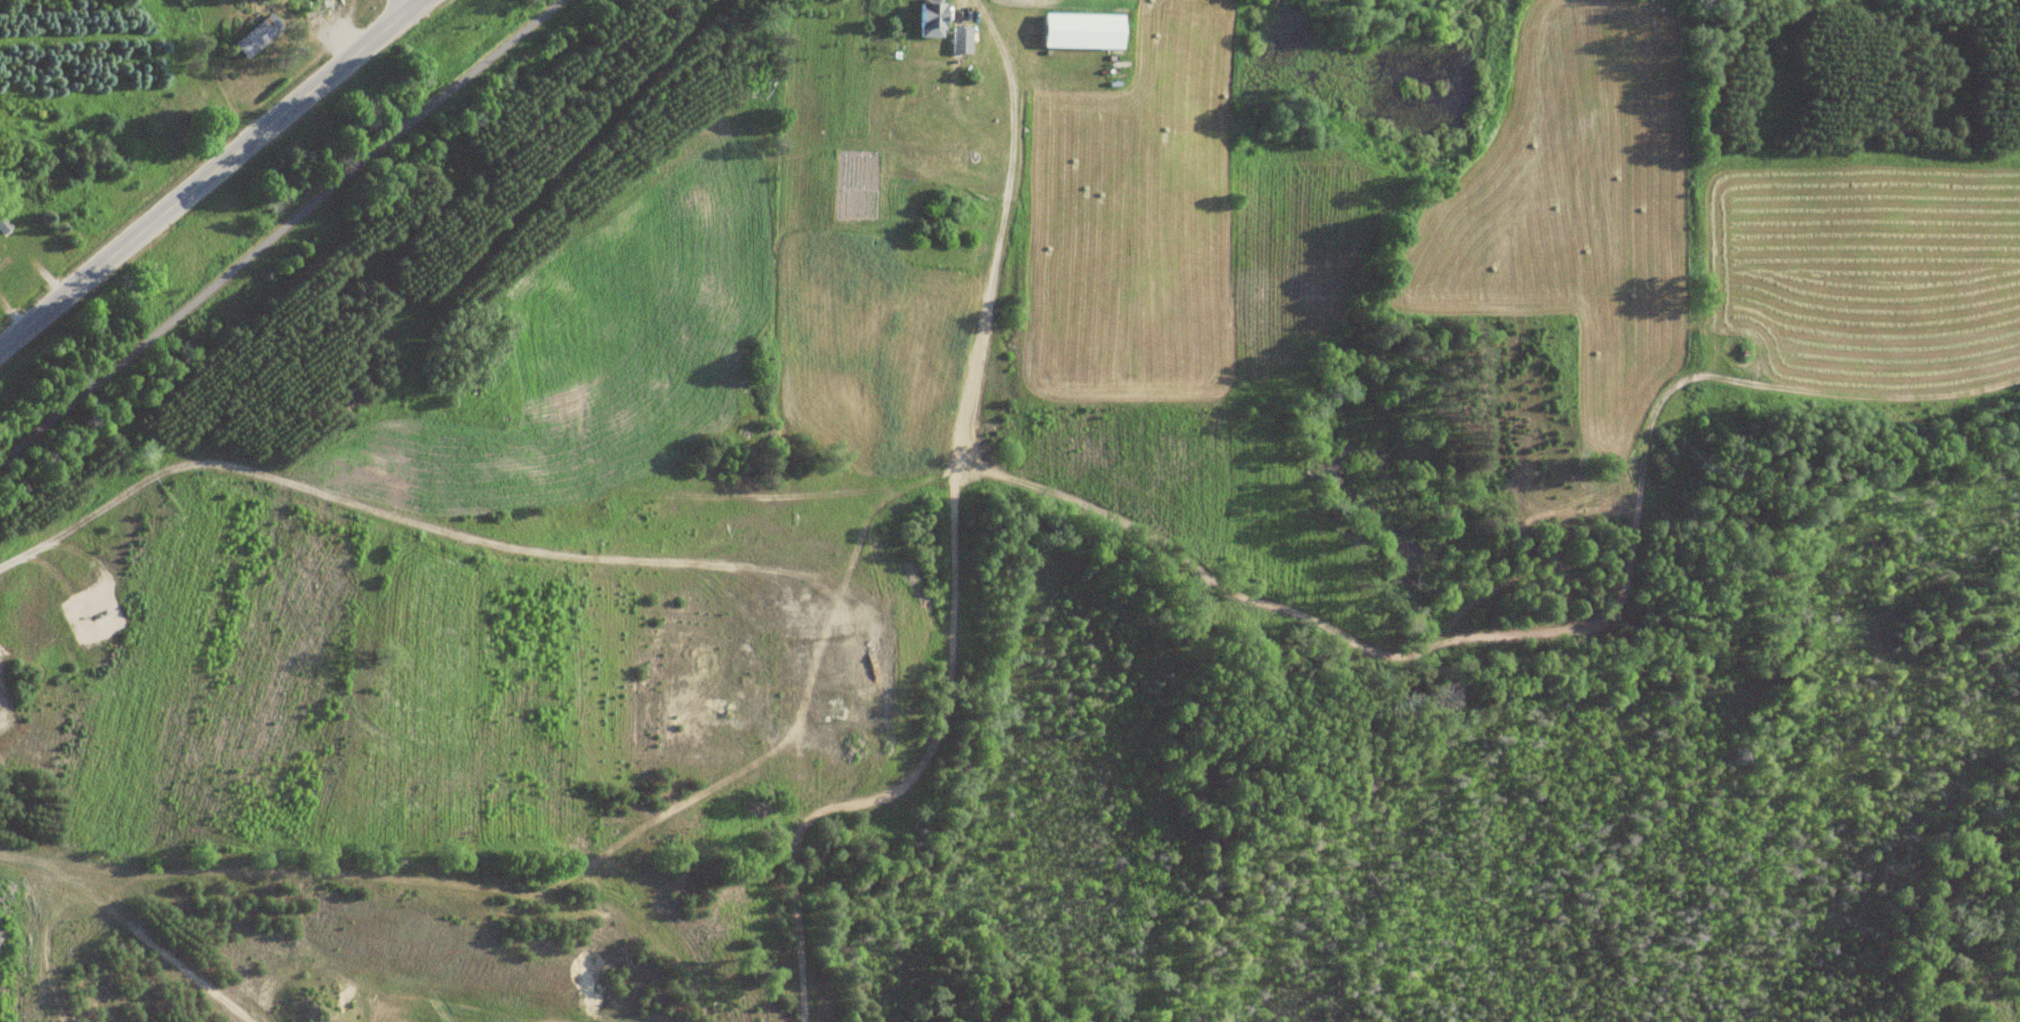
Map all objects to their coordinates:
road: (414, 2)
road: (418, 2)
building: (934, 19)
building: (1086, 31)
building: (262, 36)
building: (964, 40)
road: (208, 176)
building: (5, 225)
road: (283, 234)
building: (2, 247)
petroleum well: (99, 615)

